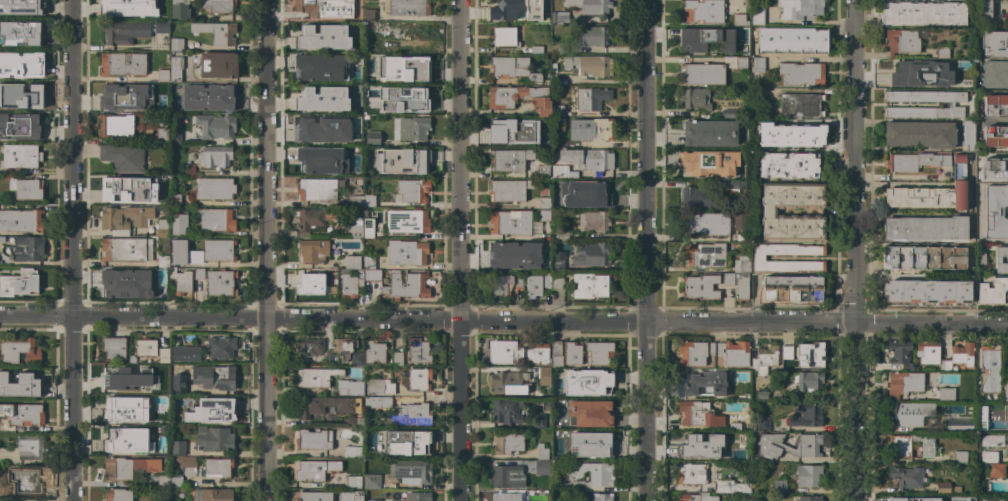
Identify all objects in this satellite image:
building: (122, 5)
building: (24, 6)
building: (217, 6)
building: (590, 6)
building: (318, 7)
building: (409, 7)
building: (505, 7)
building: (180, 8)
building: (984, 8)
building: (799, 9)
building: (160, 11)
building: (704, 11)
building: (923, 13)
building: (356, 15)
building: (368, 15)
building: (757, 15)
building: (540, 17)
building: (559, 18)
building: (739, 19)
building: (351, 25)
building: (160, 26)
building: (376, 27)
building: (732, 30)
building: (124, 31)
building: (216, 32)
building: (19, 33)
building: (504, 36)
building: (592, 36)
building: (412, 37)
building: (316, 38)
building: (792, 40)
building: (904, 40)
building: (695, 43)
building: (176, 44)
building: (995, 44)
building: (378, 47)
building: (559, 47)
building: (536, 49)
building: (942, 52)
road: (814, 60)
building: (21, 63)
building: (122, 63)
building: (309, 64)
building: (757, 64)
building: (218, 65)
building: (589, 65)
building: (409, 66)
building: (553, 67)
building: (512, 68)
building: (175, 69)
building: (351, 69)
building: (709, 71)
building: (908, 71)
building: (801, 73)
building: (994, 73)
building: (967, 74)
building: (162, 75)
building: (375, 77)
building: (352, 78)
building: (560, 80)
building: (757, 93)
building: (24, 94)
building: (122, 96)
building: (217, 96)
building: (316, 96)
building: (418, 98)
building: (591, 98)
building: (695, 99)
building: (175, 103)
building: (995, 103)
building: (163, 104)
building: (500, 104)
building: (951, 104)
building: (356, 105)
building: (800, 105)
building: (557, 110)
building: (729, 113)
road: (611, 114)
building: (28, 125)
building: (319, 125)
building: (119, 126)
building: (215, 126)
building: (410, 128)
building: (761, 128)
building: (161, 129)
building: (505, 129)
building: (591, 129)
building: (696, 130)
building: (920, 134)
building: (968, 135)
building: (175, 136)
building: (803, 136)
building: (995, 136)
building: (352, 137)
building: (372, 138)
building: (539, 142)
building: (732, 142)
building: (729, 152)
building: (20, 156)
building: (214, 156)
building: (123, 157)
building: (311, 158)
road: (456, 159)
building: (510, 159)
building: (588, 159)
building: (401, 161)
building: (914, 161)
building: (697, 162)
building: (984, 162)
building: (1006, 163)
building: (788, 165)
building: (350, 167)
building: (190, 170)
building: (543, 170)
building: (562, 171)
building: (731, 174)
building: (945, 174)
building: (1000, 175)
building: (732, 186)
building: (124, 187)
building: (26, 188)
building: (214, 188)
building: (318, 189)
building: (591, 189)
building: (509, 190)
building: (411, 191)
building: (933, 192)
building: (162, 199)
building: (174, 199)
building: (699, 199)
building: (356, 201)
building: (368, 201)
building: (544, 202)
building: (561, 202)
building: (157, 208)
building: (769, 211)
building: (995, 212)
building: (364, 213)
building: (544, 215)
building: (314, 217)
building: (124, 218)
building: (215, 219)
building: (21, 220)
building: (407, 221)
building: (593, 221)
building: (510, 222)
building: (178, 223)
building: (713, 224)
road: (978, 226)
building: (162, 227)
building: (368, 228)
building: (925, 229)
building: (355, 230)
building: (562, 236)
building: (739, 237)
building: (28, 248)
road: (69, 250)
road: (264, 250)
building: (312, 250)
road: (645, 250)
road: (859, 250)
building: (132, 251)
building: (202, 251)
building: (406, 252)
building: (509, 253)
building: (591, 255)
building: (704, 256)
building: (758, 258)
building: (923, 258)
building: (980, 258)
building: (557, 260)
building: (998, 260)
building: (352, 262)
building: (368, 262)
building: (381, 262)
building: (741, 264)
building: (541, 265)
building: (967, 273)
building: (198, 274)
building: (371, 275)
building: (727, 279)
building: (165, 281)
building: (349, 282)
building: (519, 282)
building: (546, 282)
building: (120, 283)
building: (220, 283)
building: (556, 283)
building: (20, 284)
building: (500, 284)
building: (314, 285)
building: (589, 285)
building: (406, 286)
building: (533, 286)
building: (741, 286)
building: (700, 287)
building: (791, 289)
building: (992, 291)
building: (899, 292)
building: (950, 293)
building: (1007, 297)
road: (12, 316)
road: (516, 320)
building: (221, 346)
building: (145, 347)
building: (344, 347)
building: (111, 348)
building: (711, 348)
building: (308, 349)
building: (19, 350)
building: (373, 351)
building: (418, 351)
building: (786, 351)
building: (504, 352)
building: (185, 353)
building: (537, 353)
building: (572, 353)
building: (600, 353)
building: (691, 353)
building: (733, 353)
building: (556, 354)
building: (900, 354)
building: (927, 354)
building: (162, 355)
building: (810, 355)
building: (396, 357)
building: (327, 358)
building: (356, 359)
building: (764, 359)
building: (990, 369)
building: (114, 375)
building: (544, 376)
building: (213, 377)
building: (315, 377)
building: (419, 379)
building: (597, 381)
building: (802, 381)
building: (688, 382)
building: (178, 383)
building: (508, 383)
building: (904, 383)
building: (20, 386)
building: (379, 386)
building: (154, 387)
building: (348, 387)
building: (561, 392)
building: (945, 392)
building: (1005, 392)
building: (738, 395)
building: (377, 402)
building: (323, 405)
building: (546, 405)
building: (120, 406)
building: (219, 407)
road: (456, 409)
building: (505, 411)
building: (596, 412)
building: (413, 413)
building: (698, 413)
building: (908, 413)
building: (22, 414)
building: (178, 415)
building: (804, 415)
building: (1006, 417)
building: (160, 418)
building: (353, 421)
building: (538, 421)
building: (561, 422)
building: (762, 424)
building: (958, 424)
building: (752, 425)
building: (734, 426)
building: (991, 426)
building: (360, 429)
building: (380, 433)
building: (122, 435)
building: (211, 438)
building: (312, 439)
building: (507, 441)
building: (412, 442)
building: (690, 443)
building: (590, 445)
building: (772, 446)
building: (910, 446)
building: (30, 447)
building: (177, 448)
building: (152, 450)
building: (352, 452)
building: (541, 452)
building: (558, 453)
building: (374, 454)
building: (989, 456)
building: (960, 457)
building: (185, 464)
building: (129, 467)
building: (218, 467)
building: (542, 467)
building: (313, 469)
building: (411, 471)
building: (995, 471)
building: (593, 473)
building: (695, 473)
building: (808, 475)
building: (507, 476)
building: (907, 477)
building: (26, 478)
building: (175, 478)
building: (163, 480)
building: (371, 481)
building: (353, 482)
building: (730, 486)
building: (779, 486)
building: (942, 488)
building: (118, 494)
building: (212, 495)
building: (349, 495)
building: (311, 496)
building: (418, 496)
building: (505, 496)
building: (601, 497)
building: (696, 497)
building: (807, 498)
building: (901, 498)
building: (928, 499)
building: (374, 500)

